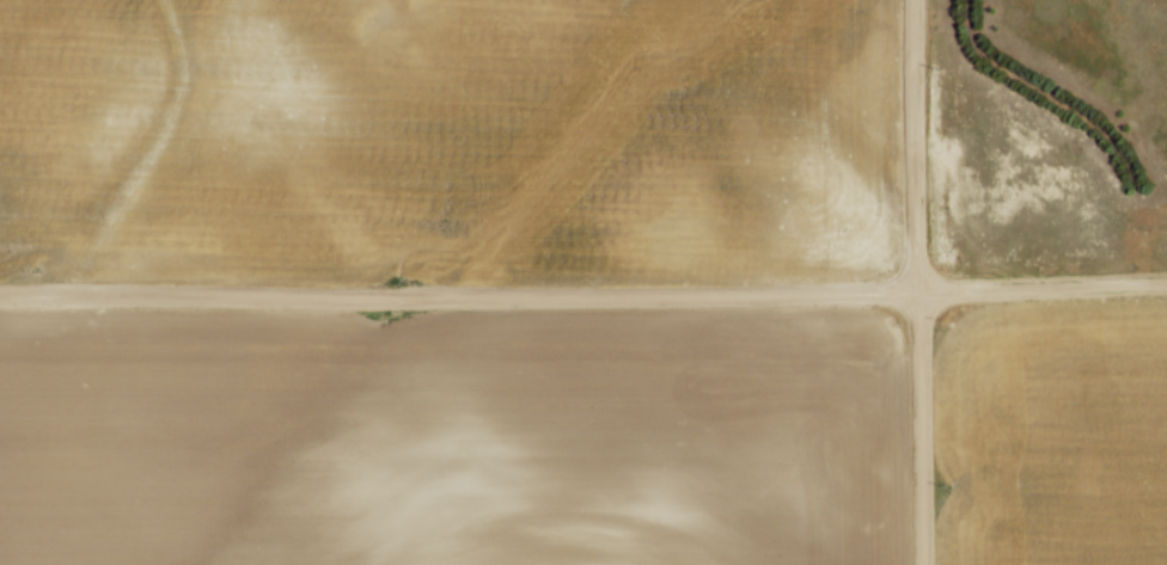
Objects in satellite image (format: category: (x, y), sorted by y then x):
crop: (447, 139)
road: (915, 282)
road: (583, 293)
crop: (1052, 432)
crop: (451, 437)

